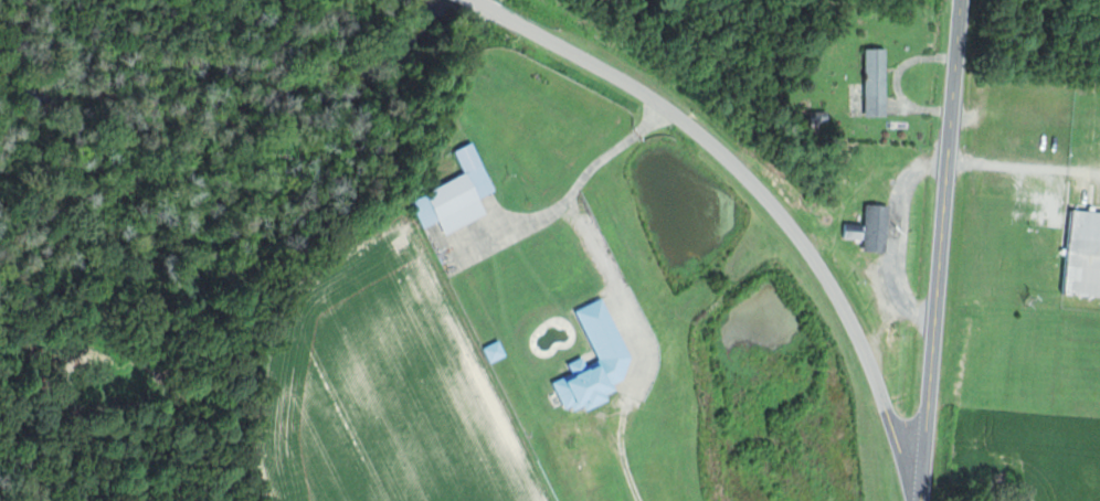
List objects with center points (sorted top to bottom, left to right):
building: (877, 82)
road: (762, 191)
building: (455, 201)
building: (878, 228)
road: (941, 250)
building: (1085, 256)
building: (596, 361)
road: (625, 466)
building: (1006, 469)

